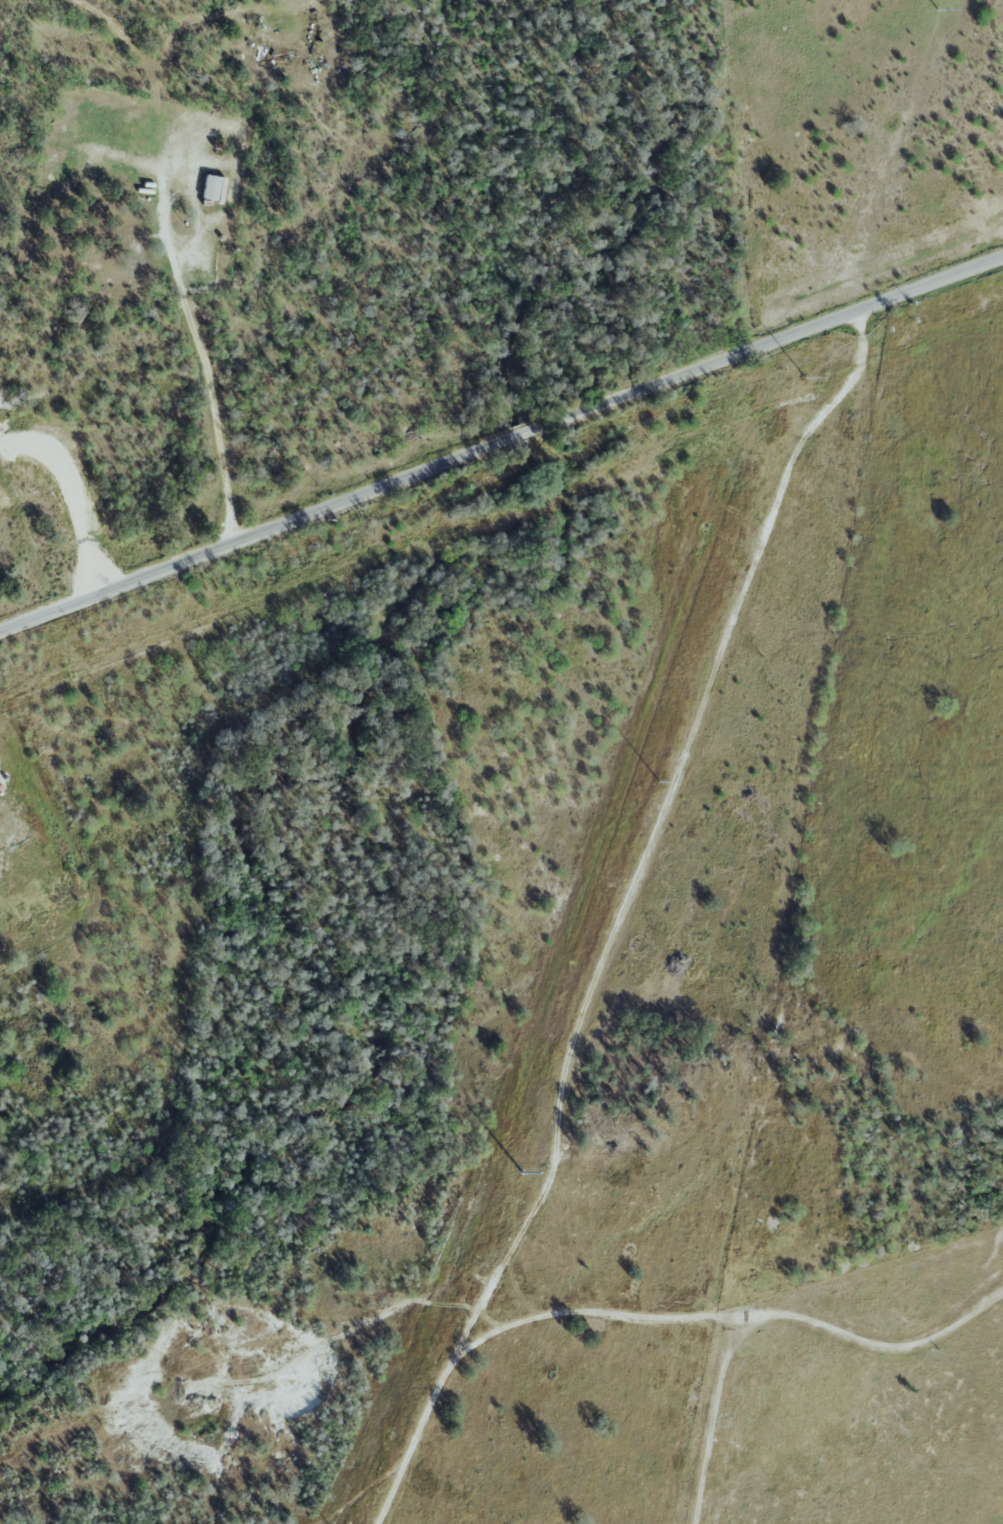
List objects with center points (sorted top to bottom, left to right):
building: (210, 189)
building: (131, 252)
road: (769, 342)
road: (204, 363)
road: (515, 436)
road: (71, 497)
road: (247, 536)
road: (619, 916)
road: (722, 1317)
road: (714, 1405)

